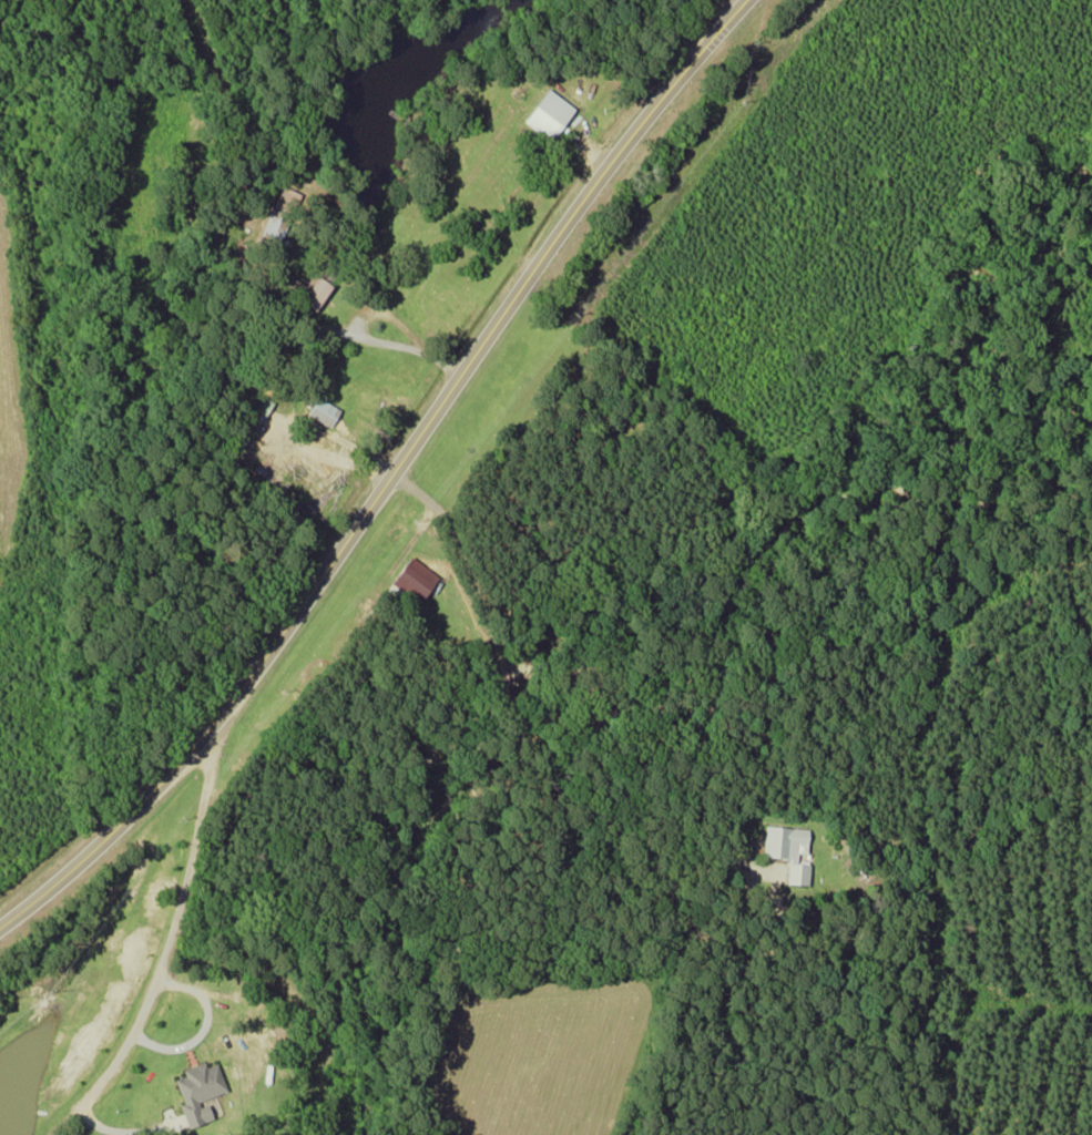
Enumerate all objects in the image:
building: (545, 114)
building: (320, 410)
road: (388, 477)
building: (411, 575)
building: (785, 852)
road: (165, 954)
building: (196, 1090)

